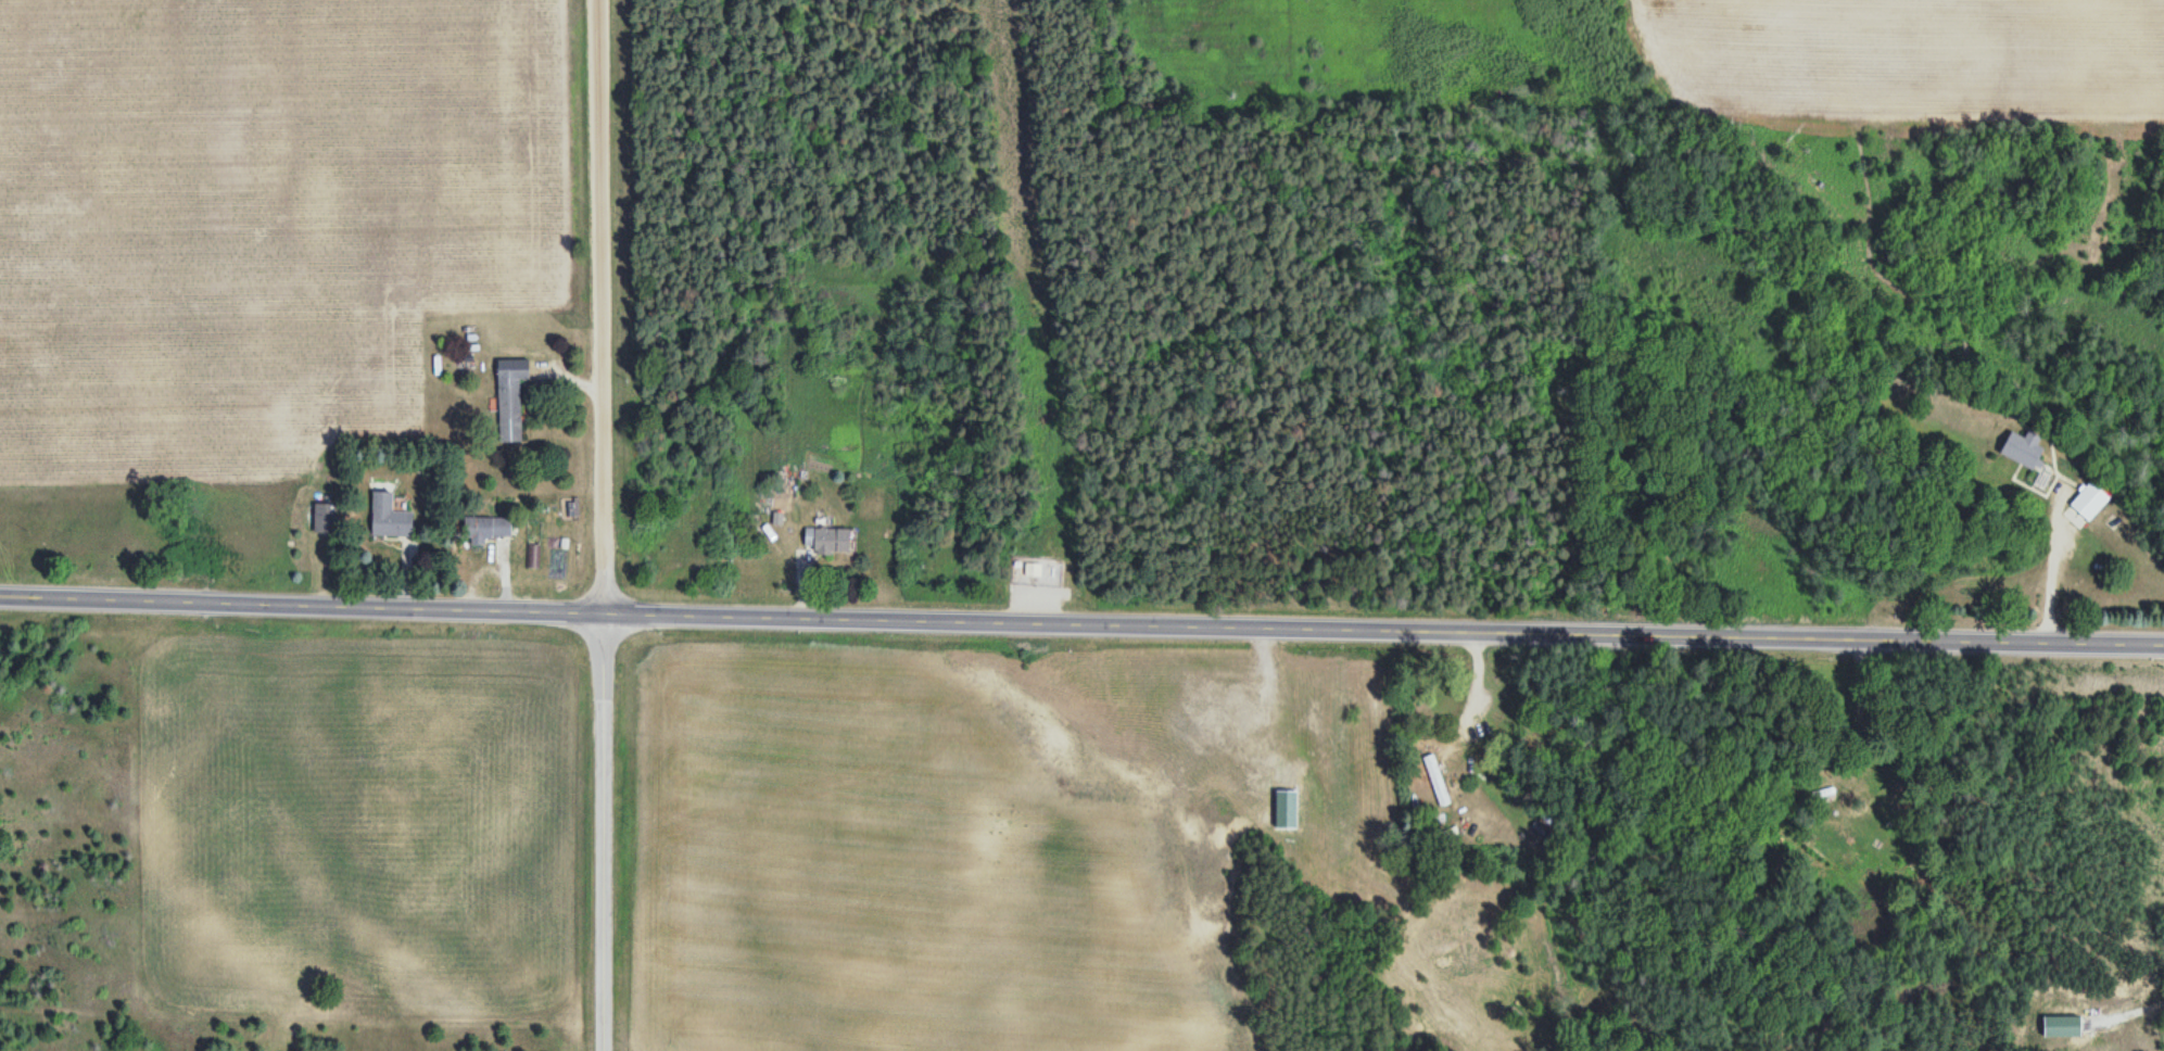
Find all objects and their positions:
road: (599, 306)
building: (508, 401)
building: (2017, 451)
building: (2086, 502)
building: (385, 518)
building: (483, 529)
building: (824, 541)
power substation: (1036, 569)
building: (1032, 570)
road: (303, 606)
road: (1385, 629)
building: (1434, 778)
building: (1822, 793)
road: (602, 832)

